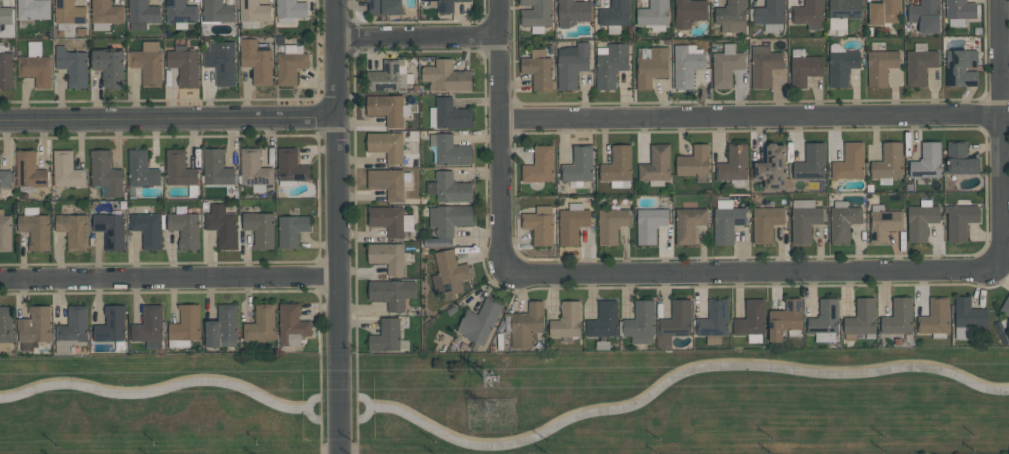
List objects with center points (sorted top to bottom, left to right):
building: (445, 5)
building: (384, 6)
building: (290, 10)
building: (32, 11)
building: (217, 11)
building: (254, 11)
building: (959, 11)
building: (573, 12)
building: (689, 12)
building: (843, 12)
building: (884, 12)
building: (142, 13)
building: (180, 13)
building: (68, 14)
building: (105, 14)
building: (808, 14)
building: (6, 15)
building: (536, 15)
building: (615, 15)
building: (654, 15)
building: (769, 15)
building: (925, 15)
building: (731, 16)
road: (417, 34)
building: (256, 61)
building: (222, 62)
building: (147, 63)
building: (184, 64)
building: (290, 64)
building: (572, 64)
building: (610, 64)
building: (686, 64)
building: (919, 64)
building: (35, 65)
building: (651, 65)
building: (764, 65)
building: (841, 65)
building: (73, 66)
building: (726, 66)
building: (880, 66)
building: (110, 67)
building: (961, 68)
building: (805, 69)
building: (6, 70)
building: (539, 70)
building: (446, 76)
building: (387, 77)
building: (387, 108)
building: (451, 113)
road: (750, 116)
road: (168, 118)
road: (998, 136)
road: (500, 137)
building: (387, 145)
building: (449, 150)
building: (960, 158)
building: (694, 161)
building: (927, 161)
building: (850, 162)
building: (811, 163)
building: (888, 163)
building: (540, 165)
building: (578, 165)
building: (617, 165)
building: (656, 165)
building: (734, 165)
building: (290, 167)
building: (772, 167)
building: (217, 168)
building: (141, 169)
building: (29, 170)
building: (66, 170)
building: (254, 170)
building: (180, 171)
building: (105, 172)
building: (6, 178)
building: (389, 182)
building: (451, 188)
building: (449, 218)
building: (387, 219)
building: (804, 219)
building: (921, 220)
building: (727, 221)
building: (843, 221)
building: (960, 221)
building: (572, 223)
building: (688, 223)
building: (765, 223)
building: (883, 223)
road: (354, 224)
building: (611, 224)
building: (650, 224)
building: (222, 225)
building: (539, 225)
building: (185, 227)
road: (338, 227)
building: (35, 228)
building: (259, 228)
building: (110, 229)
building: (147, 229)
building: (291, 229)
building: (73, 230)
building: (5, 232)
building: (388, 257)
building: (449, 274)
road: (748, 274)
road: (169, 280)
building: (392, 293)
building: (1005, 306)
building: (898, 317)
building: (968, 317)
building: (935, 318)
building: (861, 319)
building: (567, 320)
building: (785, 320)
building: (714, 321)
building: (751, 321)
building: (824, 321)
building: (674, 322)
building: (479, 323)
building: (604, 323)
building: (639, 323)
building: (6, 324)
building: (261, 324)
building: (524, 324)
building: (292, 325)
building: (185, 326)
building: (149, 327)
building: (222, 327)
building: (34, 328)
building: (112, 328)
building: (72, 329)
building: (386, 335)
road: (679, 373)
power tower: (494, 378)
road: (164, 388)
road: (320, 402)
park: (512, 404)
road: (369, 407)
power tower: (500, 415)
road: (310, 416)

